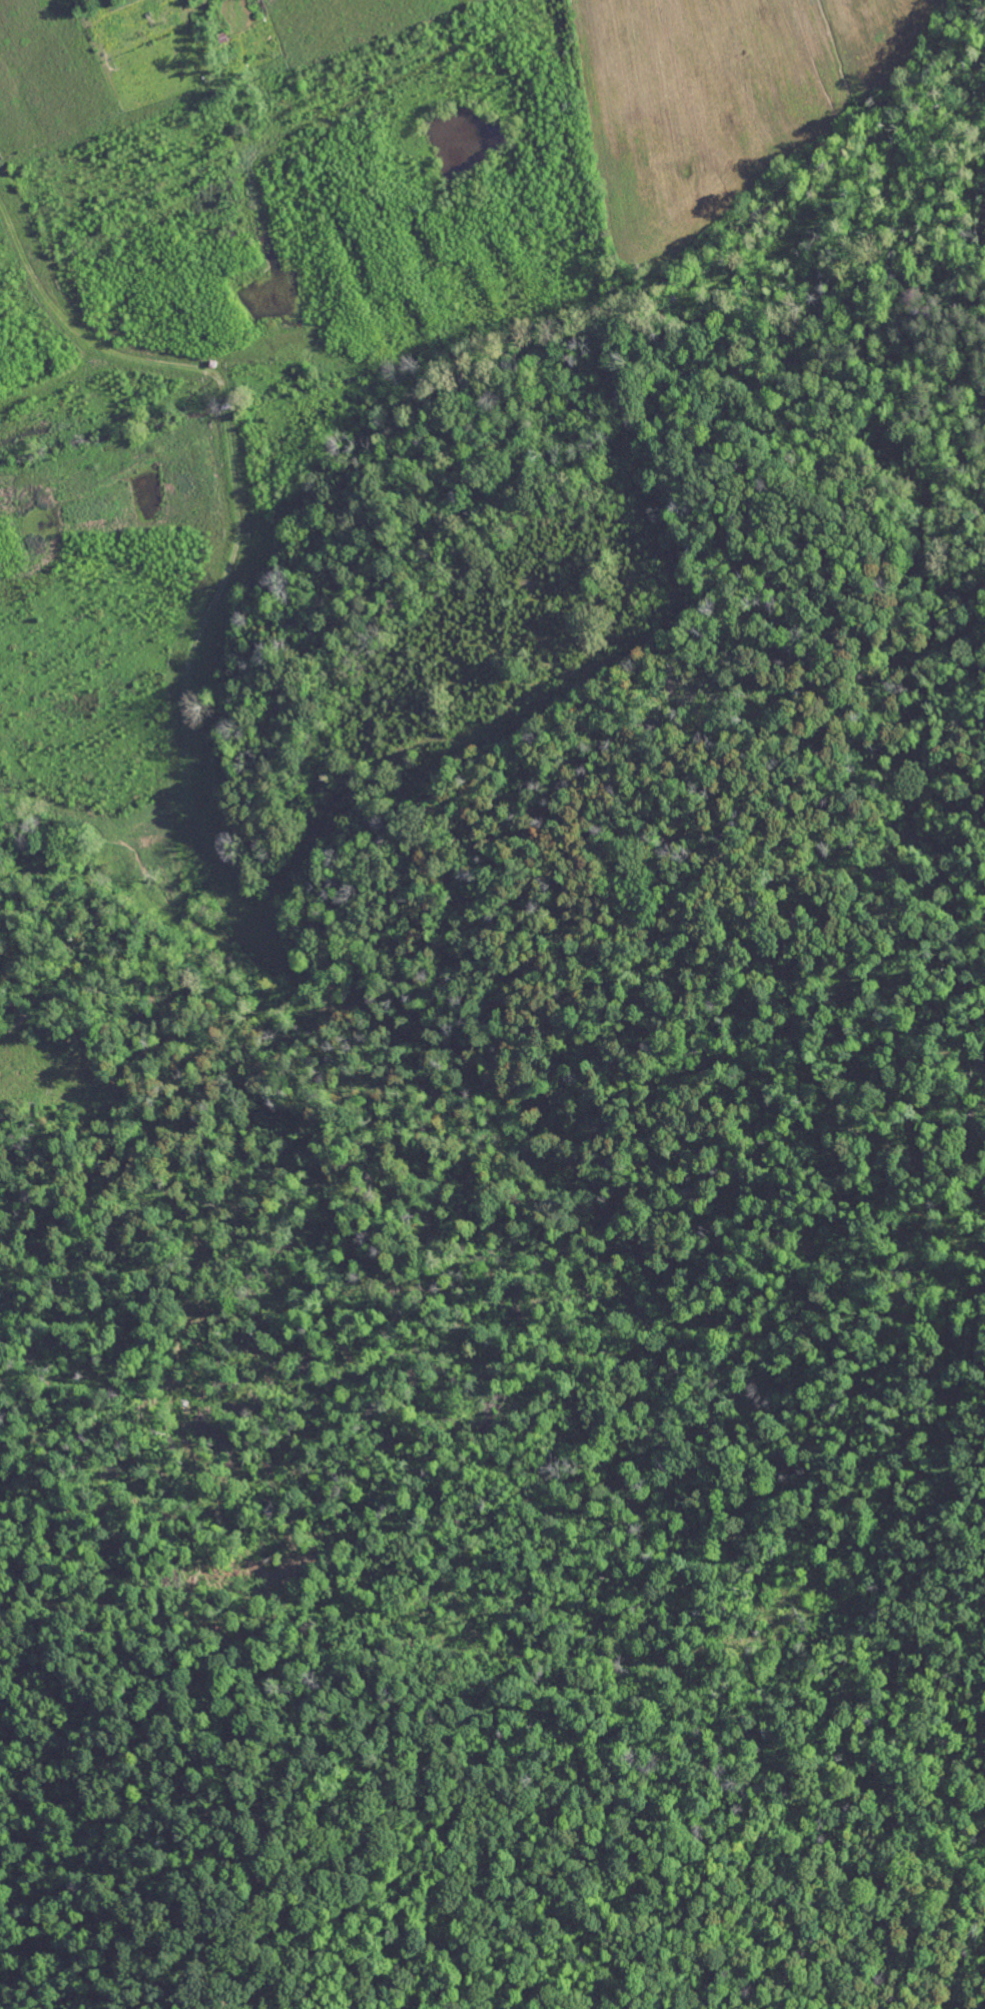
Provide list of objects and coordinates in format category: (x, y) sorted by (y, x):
road: (229, 442)

